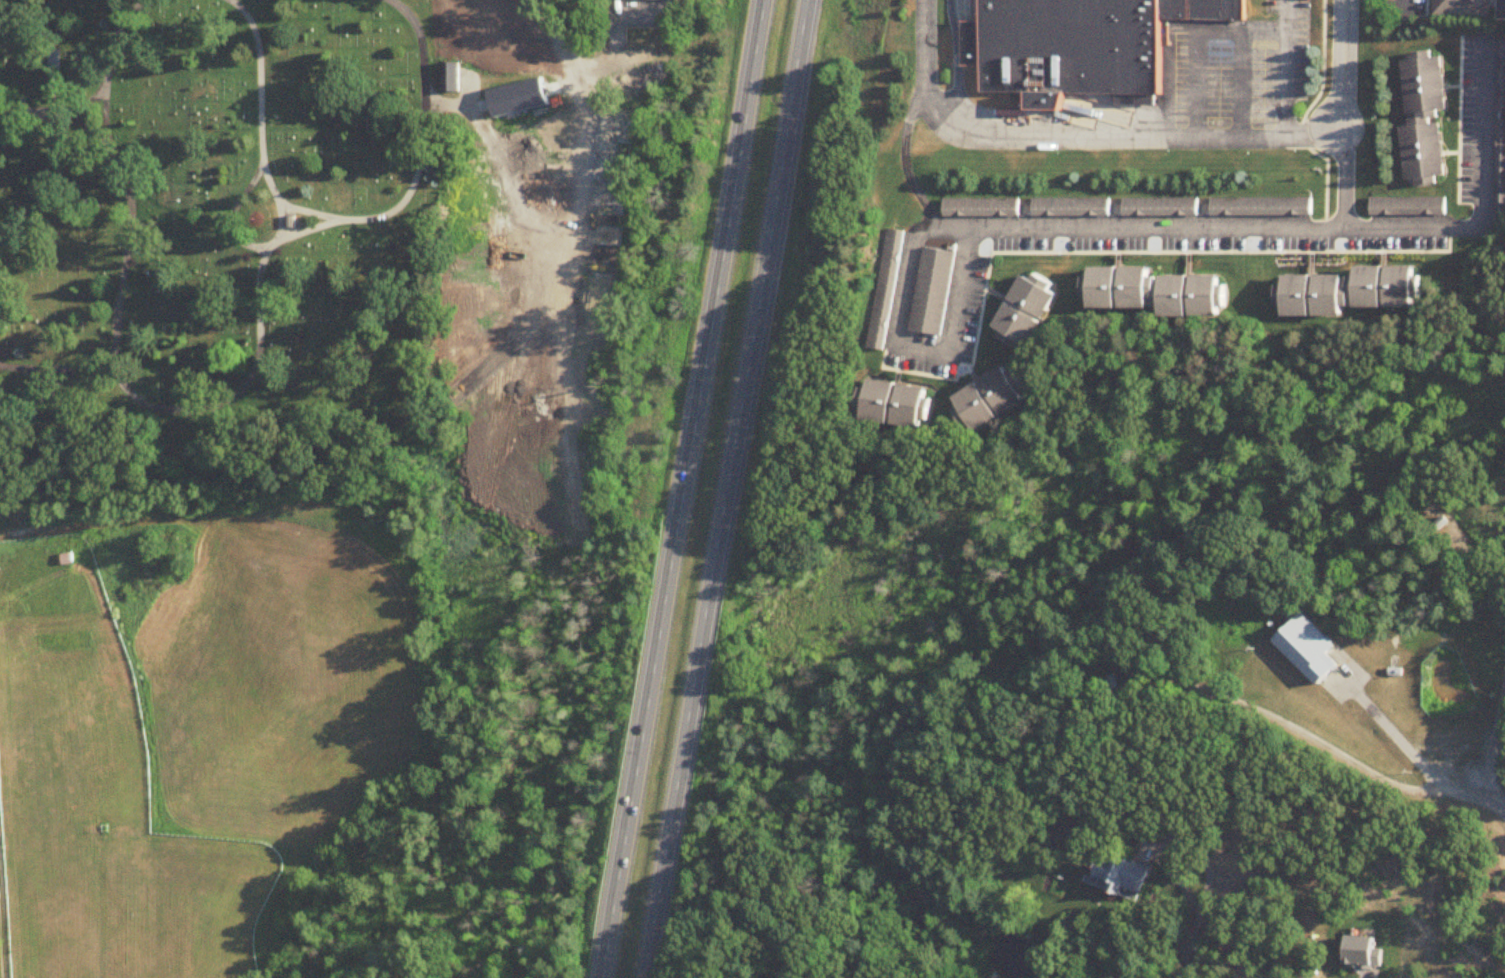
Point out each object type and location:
building: (642, 1)
building: (1461, 5)
parking lot: (1267, 7)
road: (1504, 8)
building: (1182, 10)
building: (1225, 10)
road: (1402, 10)
road: (1195, 41)
building: (1067, 50)
parking lot: (1299, 50)
building: (52, 61)
road: (1339, 64)
road: (960, 66)
road: (1283, 69)
road: (576, 71)
parking lot: (1177, 77)
building: (1502, 77)
building: (1422, 78)
building: (449, 79)
parking lot: (1215, 84)
parking lot: (1260, 84)
road: (1239, 85)
road: (104, 86)
road: (1304, 114)
road: (1459, 134)
road: (1073, 139)
road: (103, 143)
building: (1422, 146)
road: (904, 160)
building: (1501, 168)
road: (1484, 203)
park: (216, 207)
building: (1261, 207)
building: (1413, 207)
building: (1159, 208)
building: (980, 209)
building: (1069, 209)
road: (345, 222)
road: (307, 233)
road: (1033, 233)
road: (236, 240)
road: (1169, 255)
building: (1115, 285)
building: (1345, 286)
building: (885, 290)
building: (1190, 293)
building: (931, 294)
building: (1024, 305)
road: (118, 307)
road: (905, 372)
road: (743, 383)
road: (235, 392)
building: (990, 399)
building: (899, 403)
road: (684, 489)
building: (1311, 651)
road: (1416, 762)
road: (678, 779)
road: (1176, 842)
building: (1120, 878)
road: (662, 884)
road: (1187, 947)

